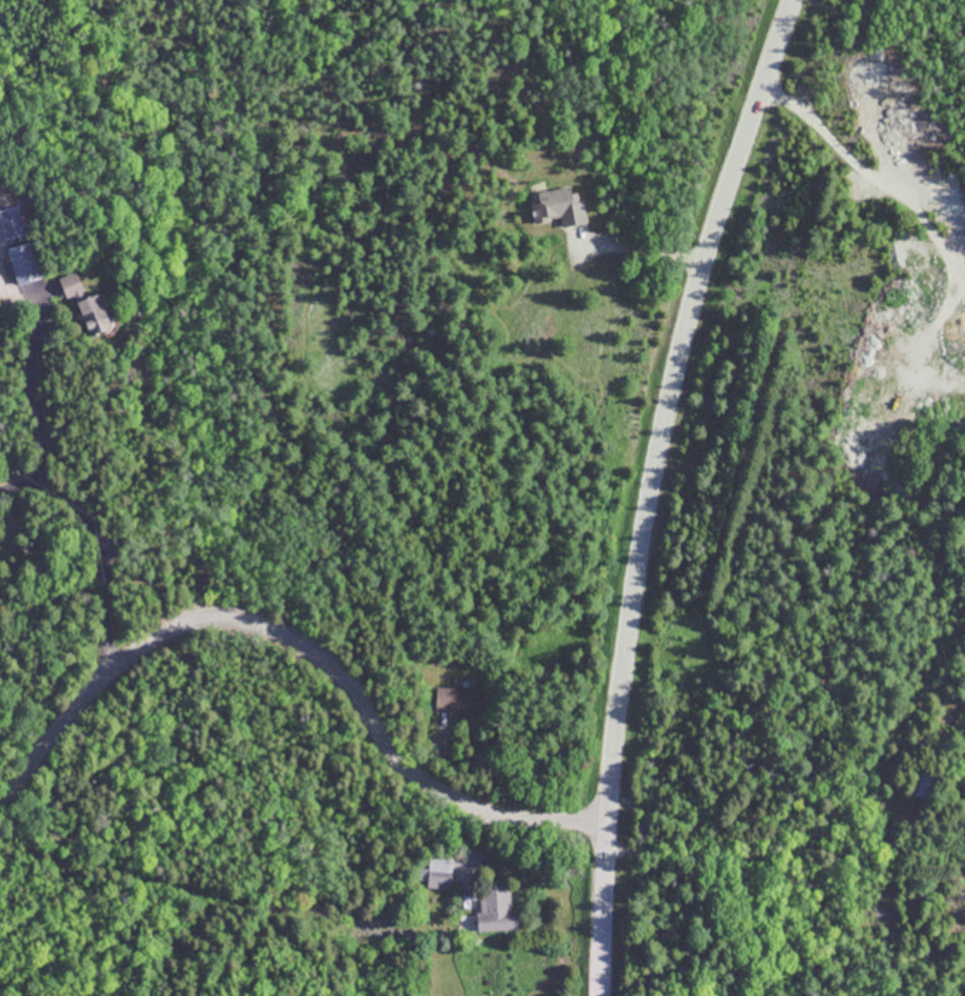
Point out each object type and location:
road: (868, 174)
building: (558, 206)
road: (650, 251)
building: (23, 263)
building: (70, 285)
building: (91, 314)
road: (36, 394)
road: (652, 489)
road: (106, 535)
road: (298, 646)
building: (460, 699)
building: (920, 785)
road: (478, 845)
road: (784, 851)
building: (439, 873)
building: (495, 909)

